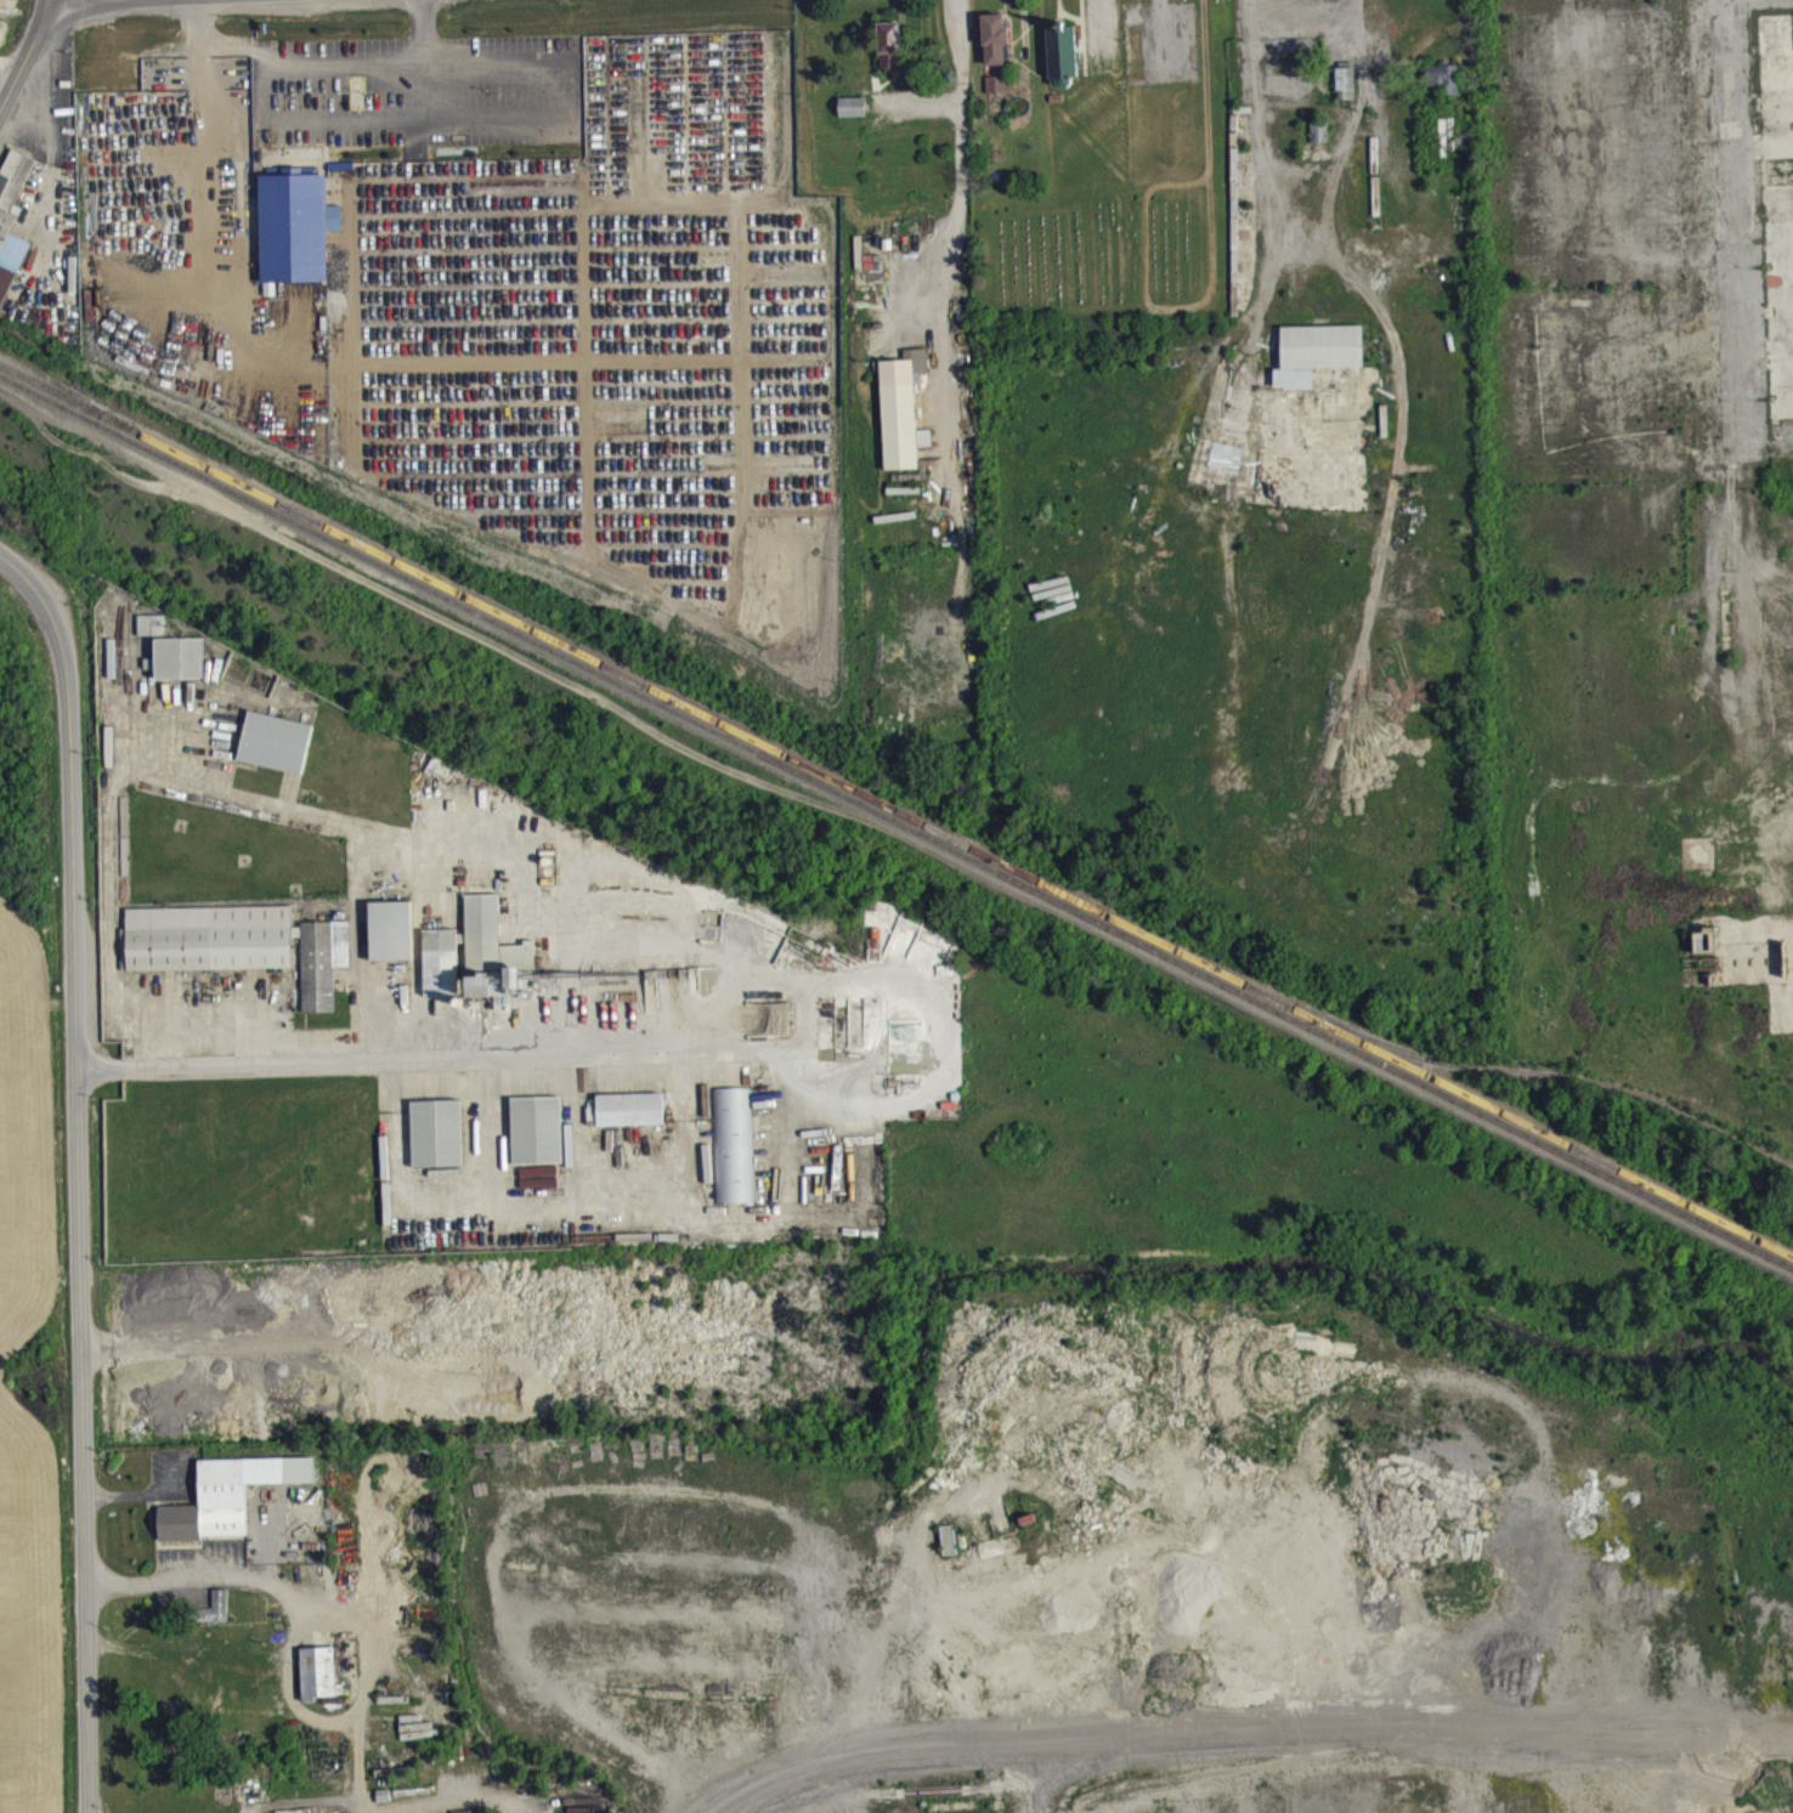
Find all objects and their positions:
road: (118, 1)
building: (996, 50)
road: (27, 55)
building: (892, 58)
road: (428, 62)
building: (1063, 66)
parking lot: (418, 89)
building: (1446, 89)
building: (997, 95)
building: (1346, 95)
building: (854, 118)
building: (1320, 142)
road: (960, 206)
road: (214, 216)
building: (295, 226)
building: (11, 230)
building: (1318, 363)
building: (904, 421)
building: (152, 636)
building: (179, 669)
building: (277, 753)
railway: (895, 809)
railway: (896, 820)
building: (392, 941)
building: (238, 956)
building: (477, 965)
road: (396, 1061)
railway: (1546, 1072)
building: (632, 1120)
building: (538, 1141)
building: (439, 1144)
building: (734, 1156)
road: (75, 1171)
building: (188, 1308)
building: (321, 1311)
building: (226, 1494)
building: (950, 1552)
road: (321, 1598)
building: (214, 1604)
building: (216, 1619)
building: (316, 1670)

